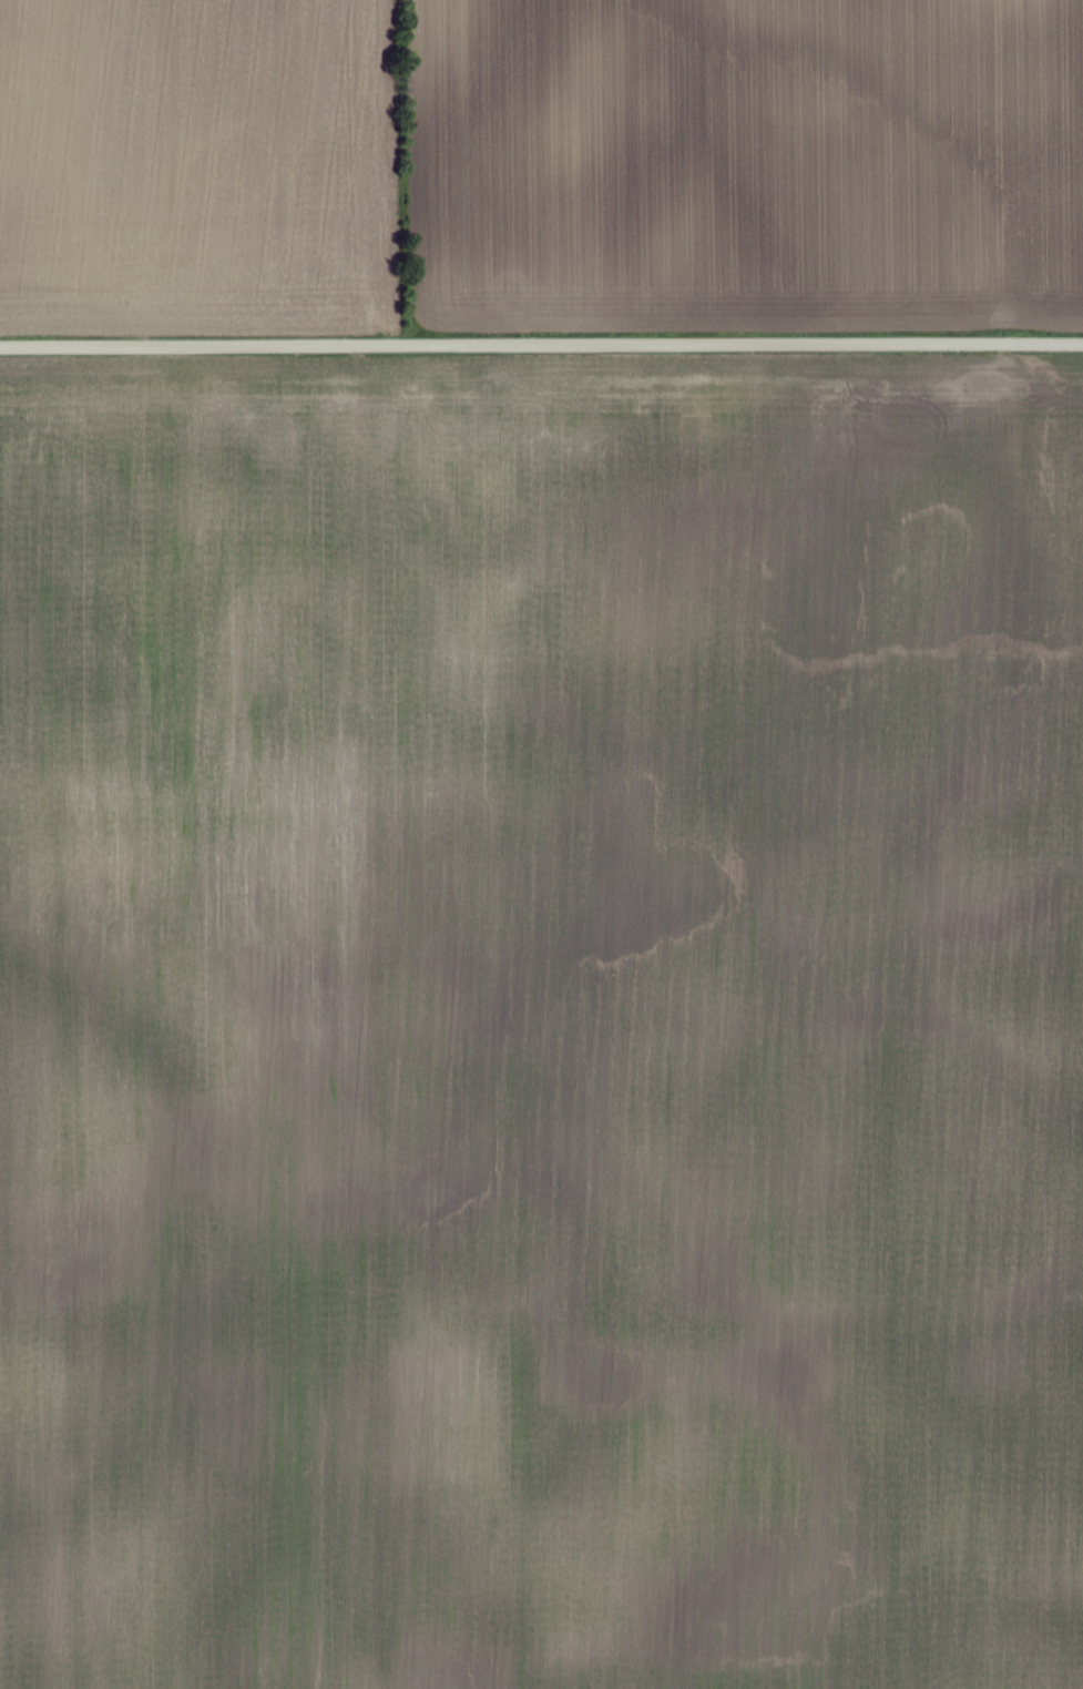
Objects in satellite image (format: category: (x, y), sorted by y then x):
road: (541, 345)

